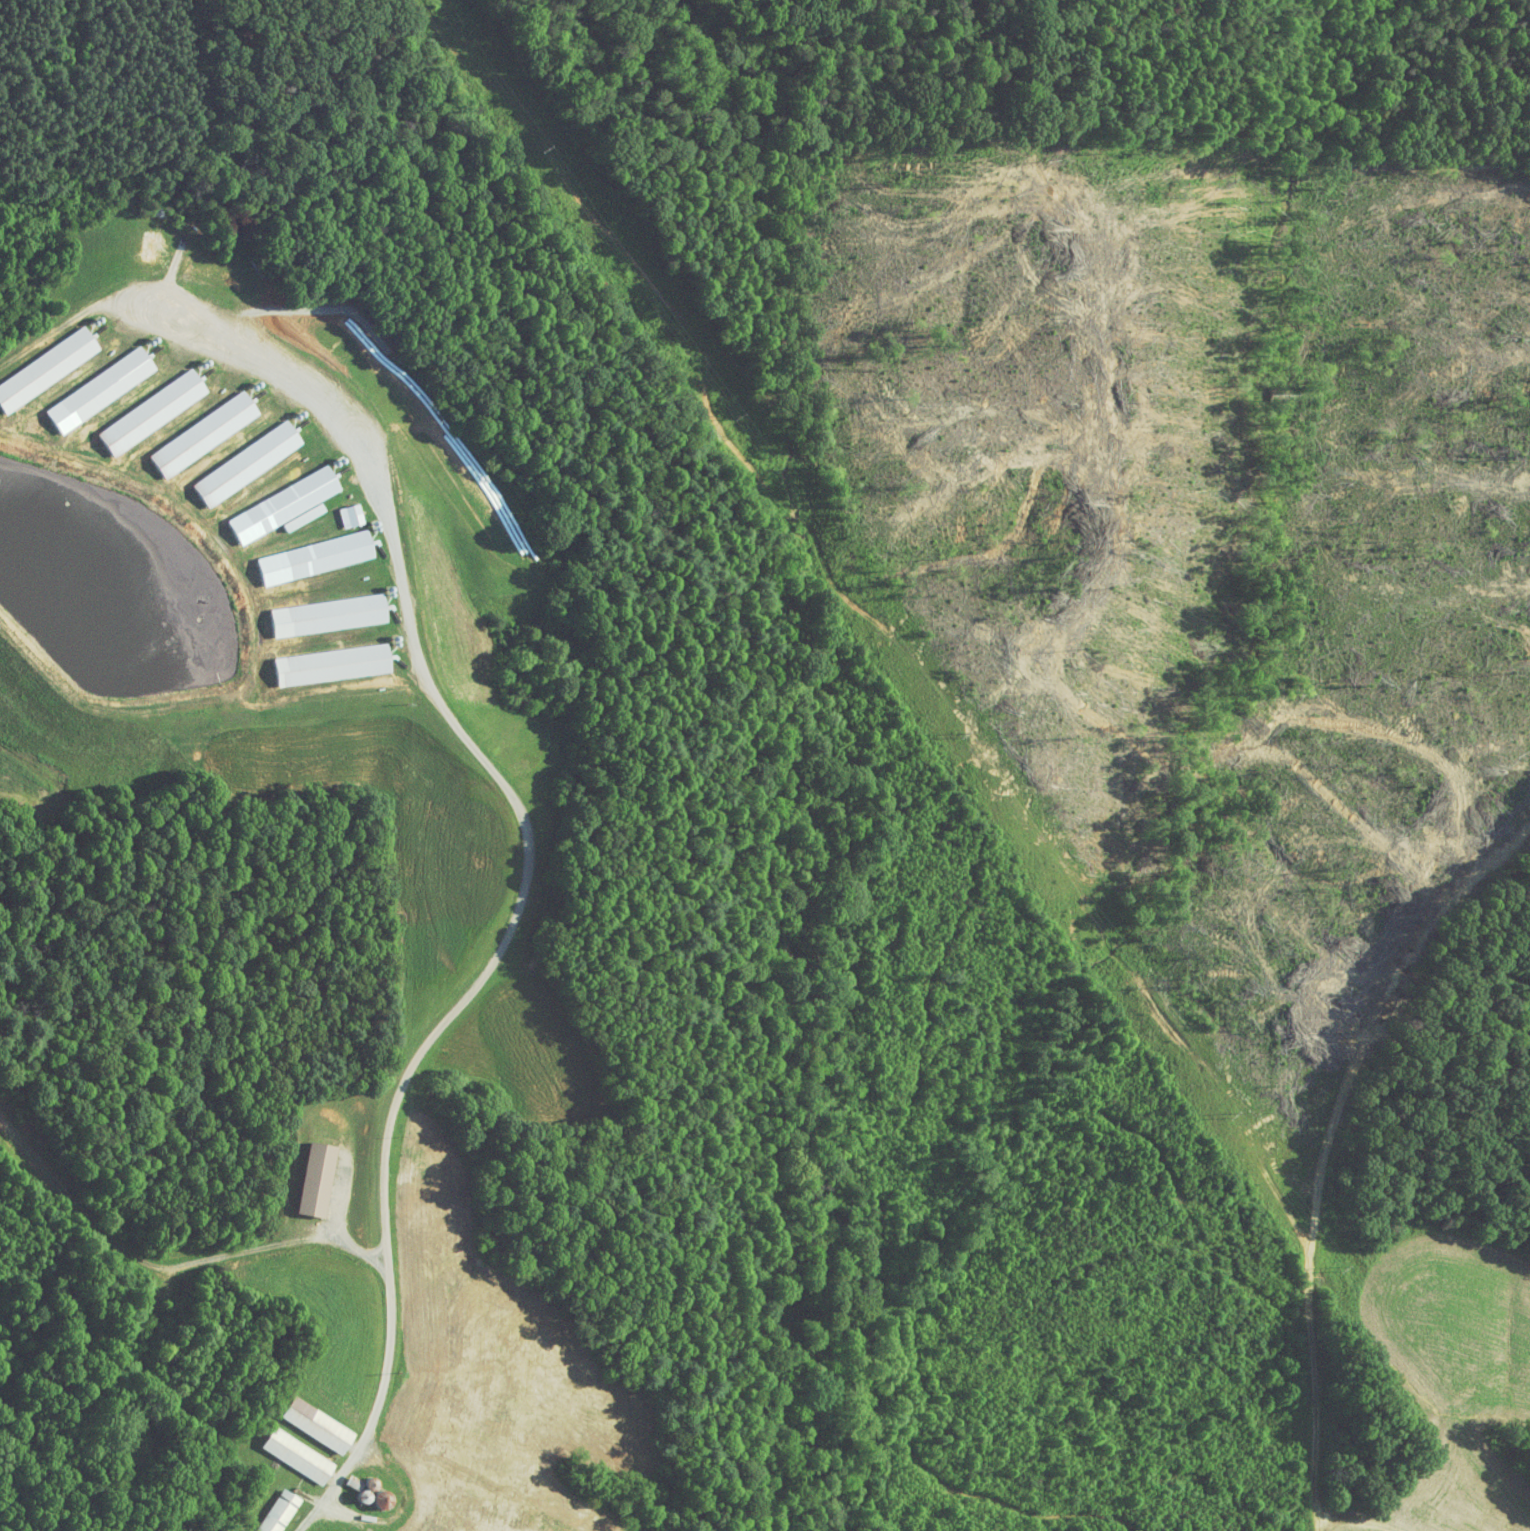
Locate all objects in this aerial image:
road: (130, 319)
building: (40, 359)
building: (87, 383)
building: (139, 406)
building: (190, 428)
building: (234, 457)
building: (271, 498)
building: (338, 509)
building: (290, 511)
building: (303, 551)
building: (315, 609)
building: (319, 659)
road: (520, 901)
building: (303, 1172)
building: (304, 1418)
building: (285, 1449)
building: (370, 1493)
building: (265, 1508)

